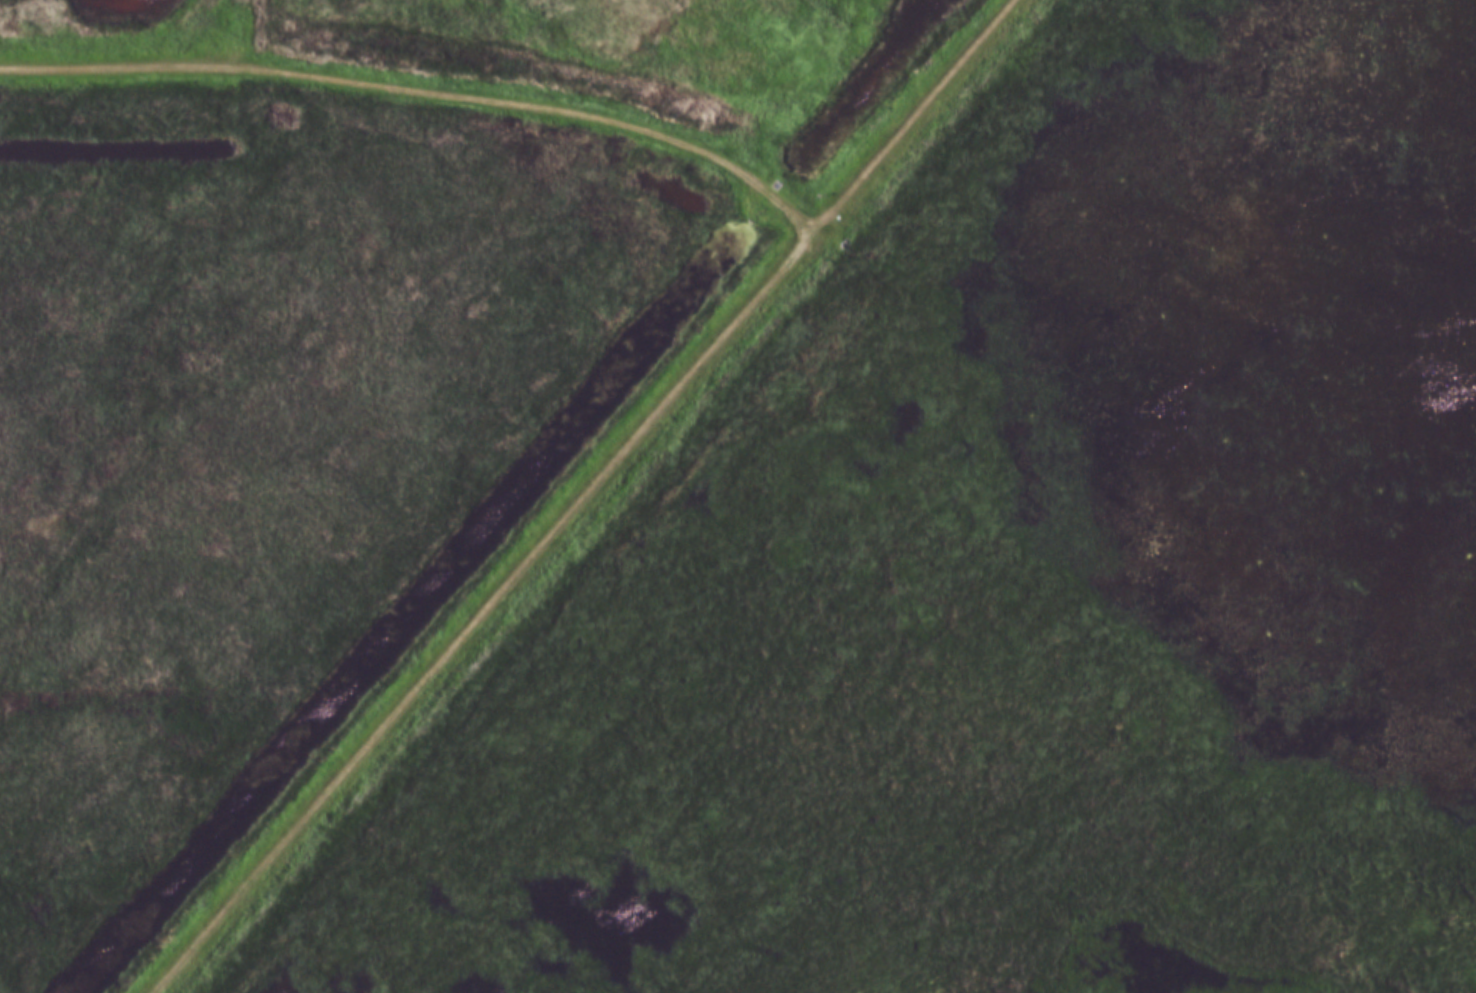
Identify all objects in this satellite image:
road: (423, 86)
road: (583, 496)
dam: (608, 497)

